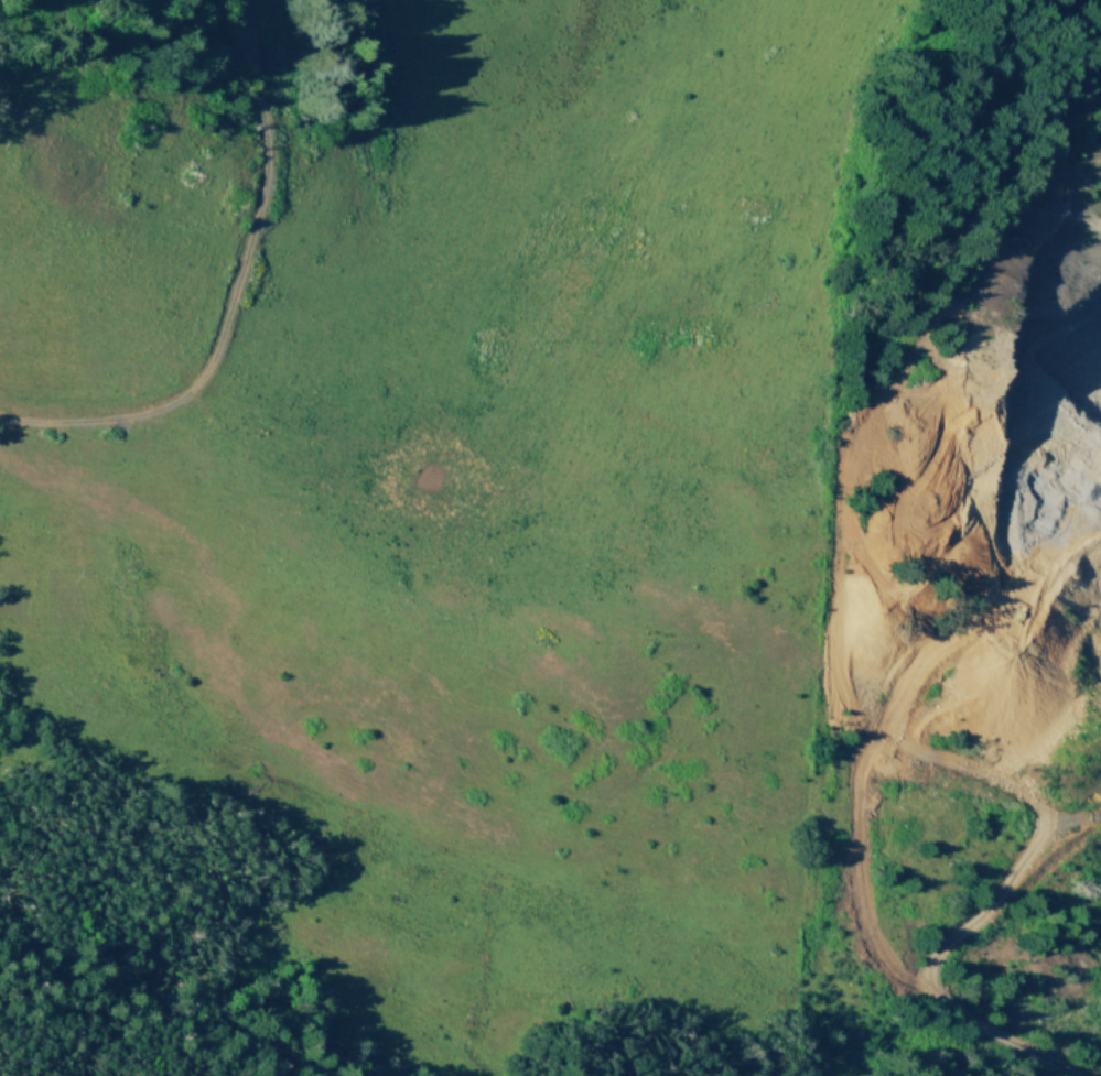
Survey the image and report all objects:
road: (180, 729)

